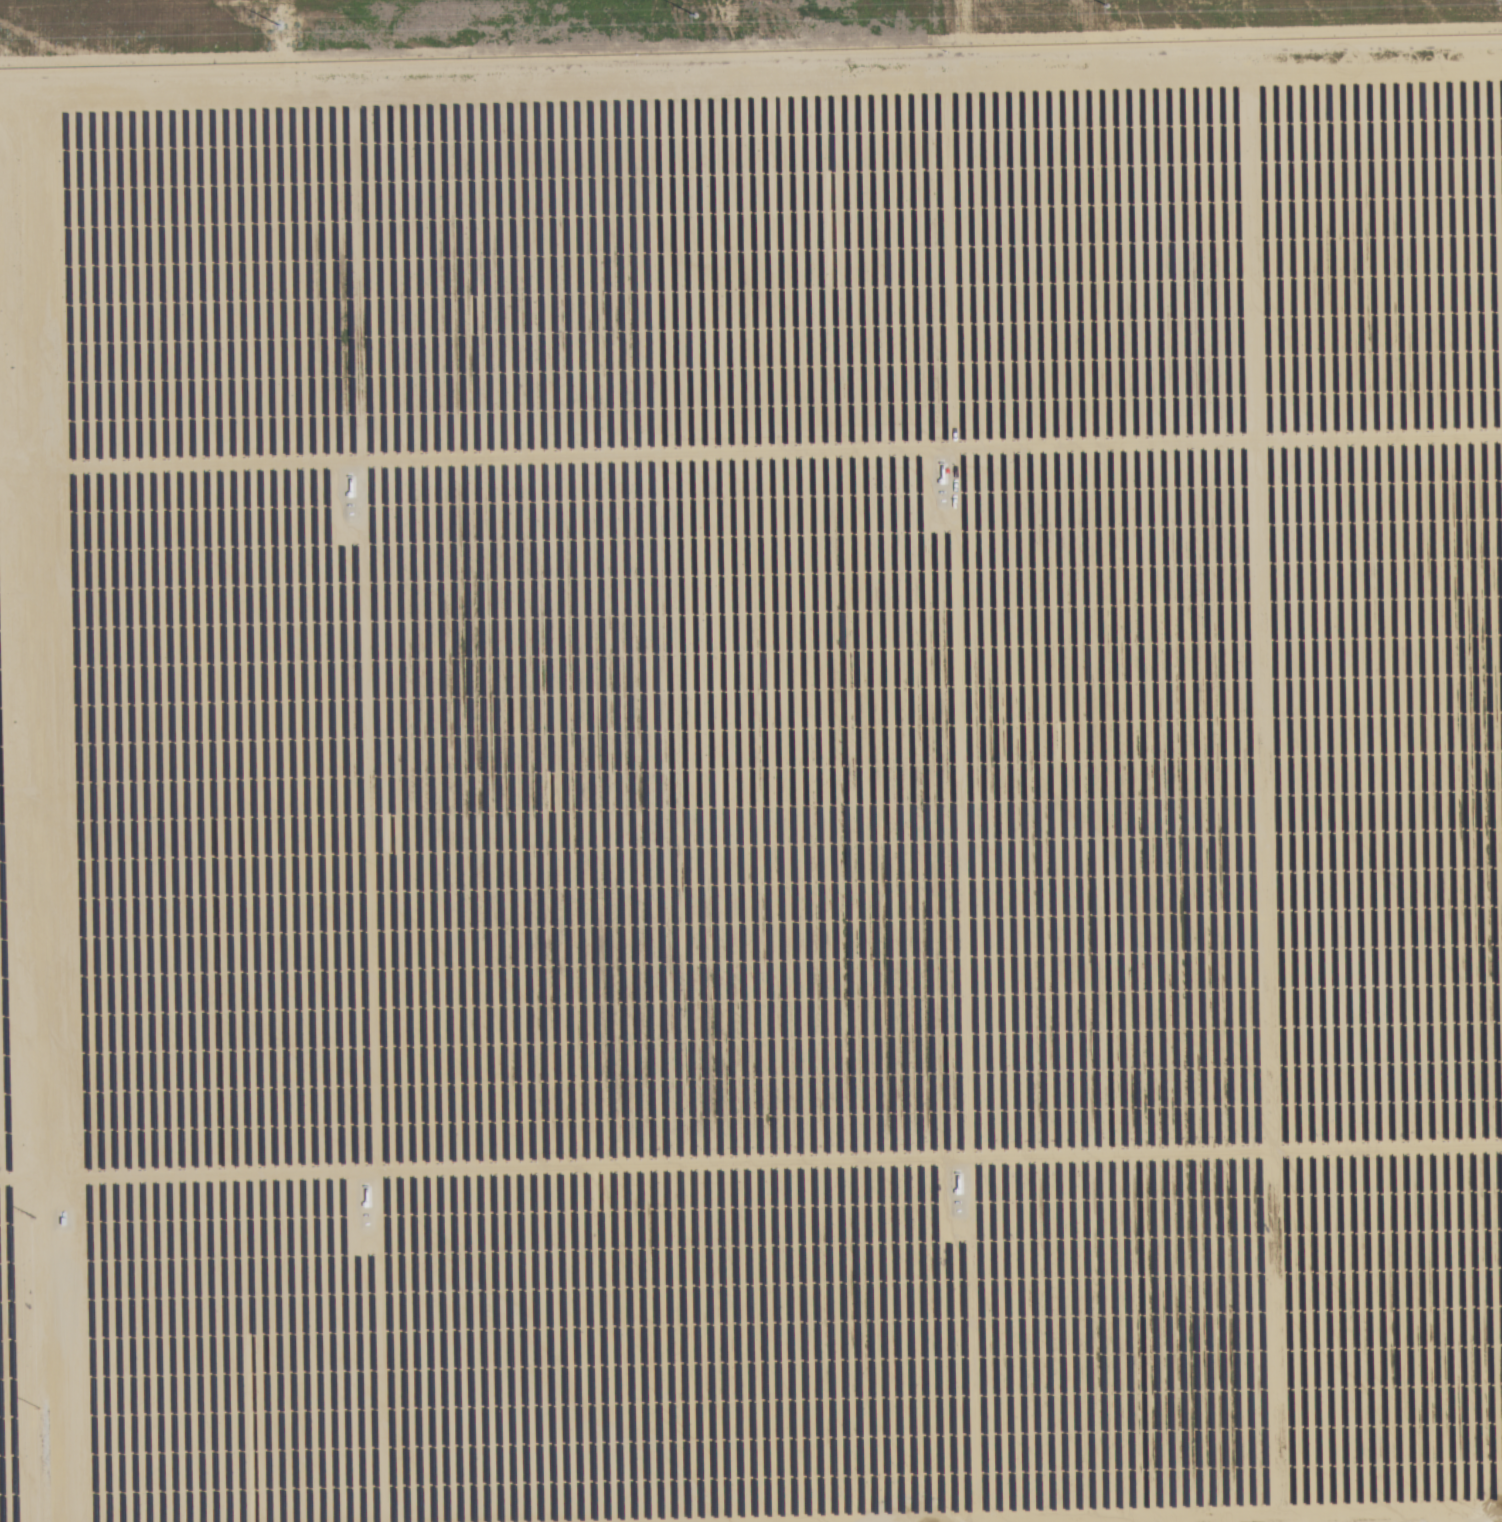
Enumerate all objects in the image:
solar farm: (753, 787)

